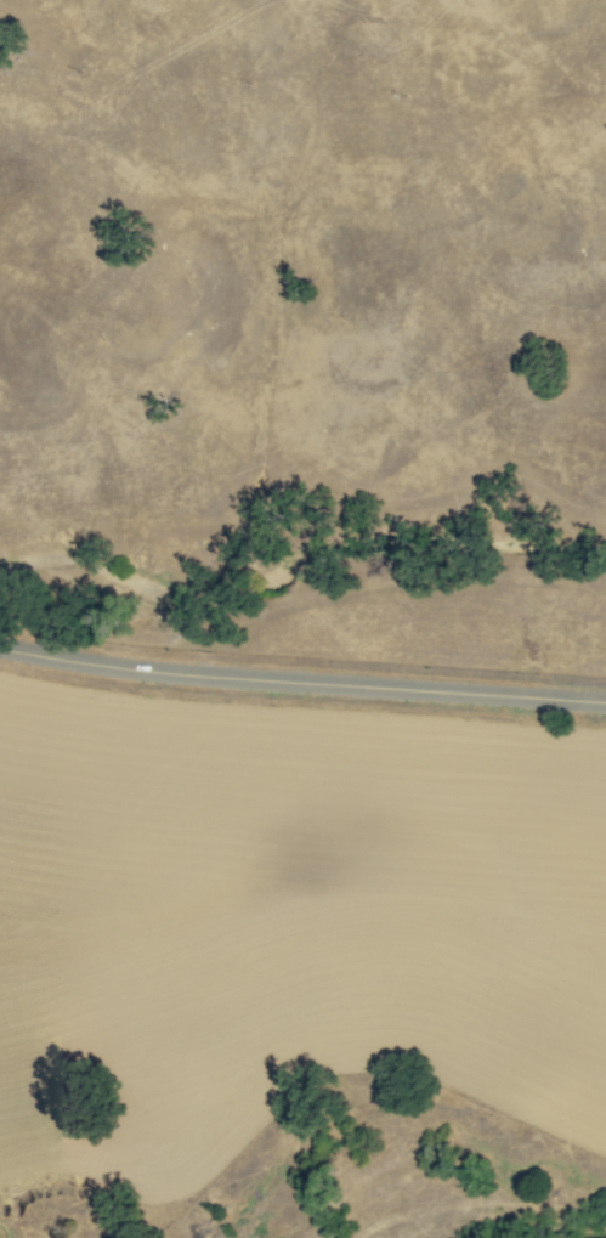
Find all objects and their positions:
road: (301, 682)
river: (604, 1237)

